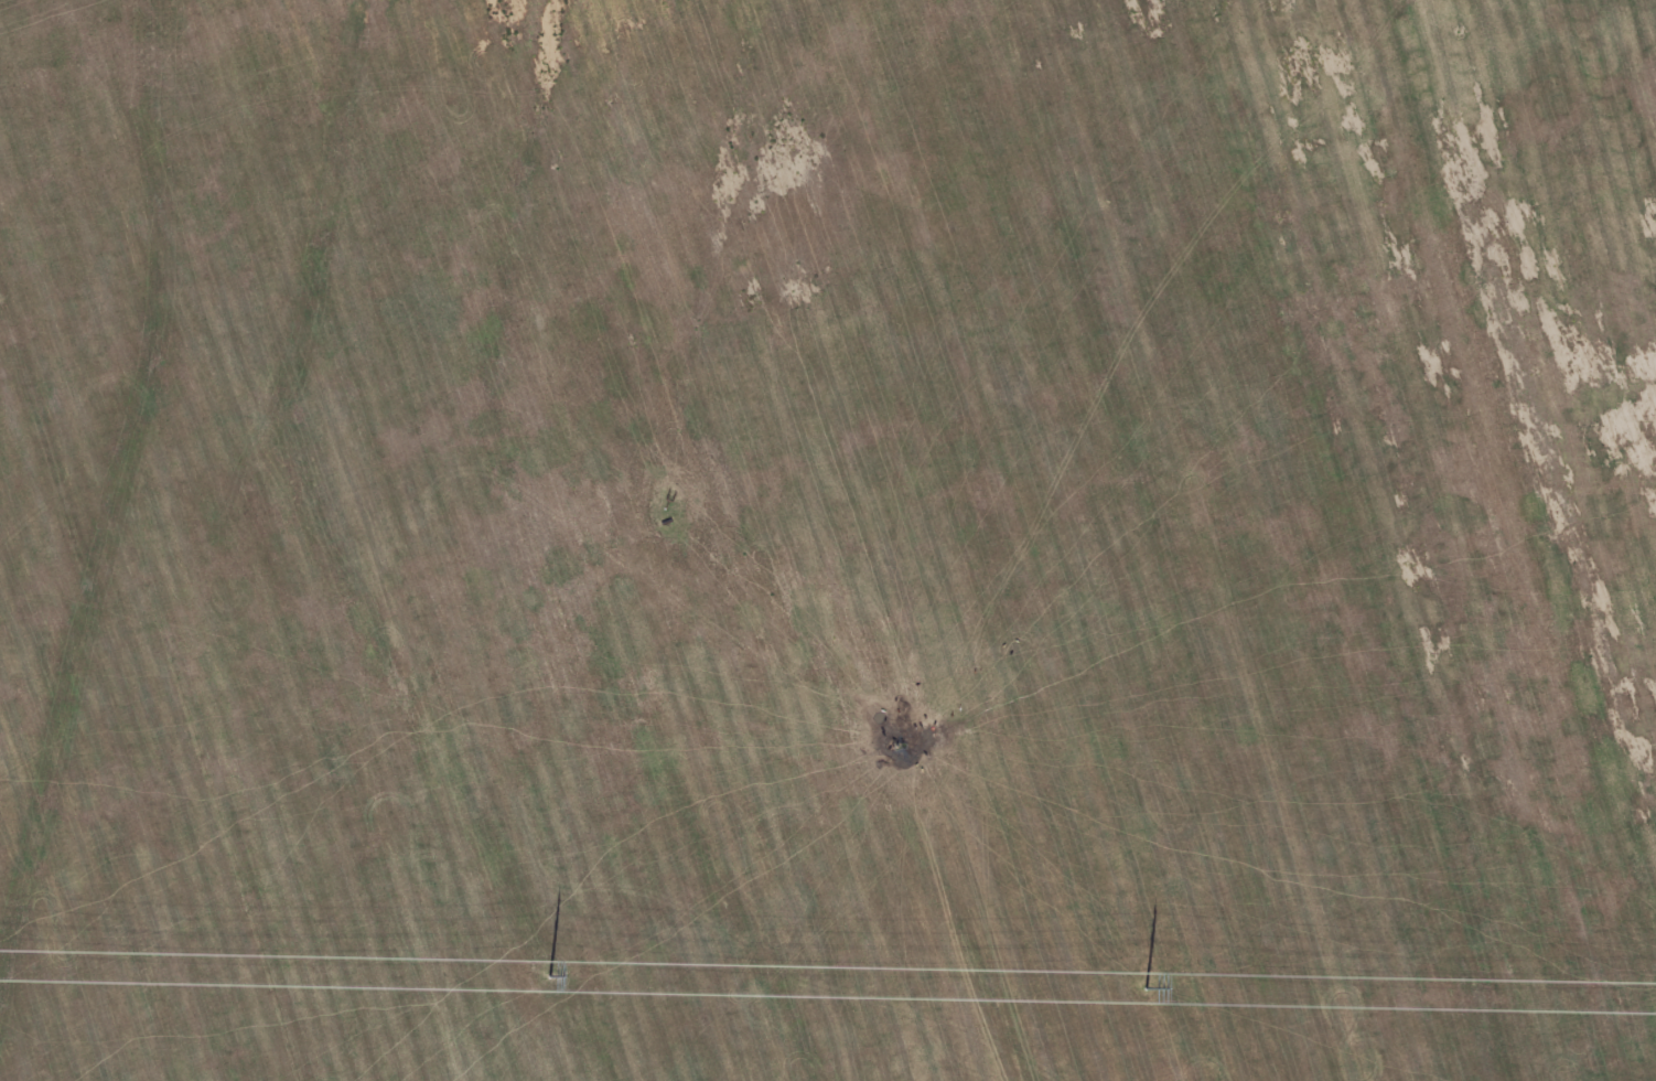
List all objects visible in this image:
power tower: (548, 974)
power tower: (1147, 986)

